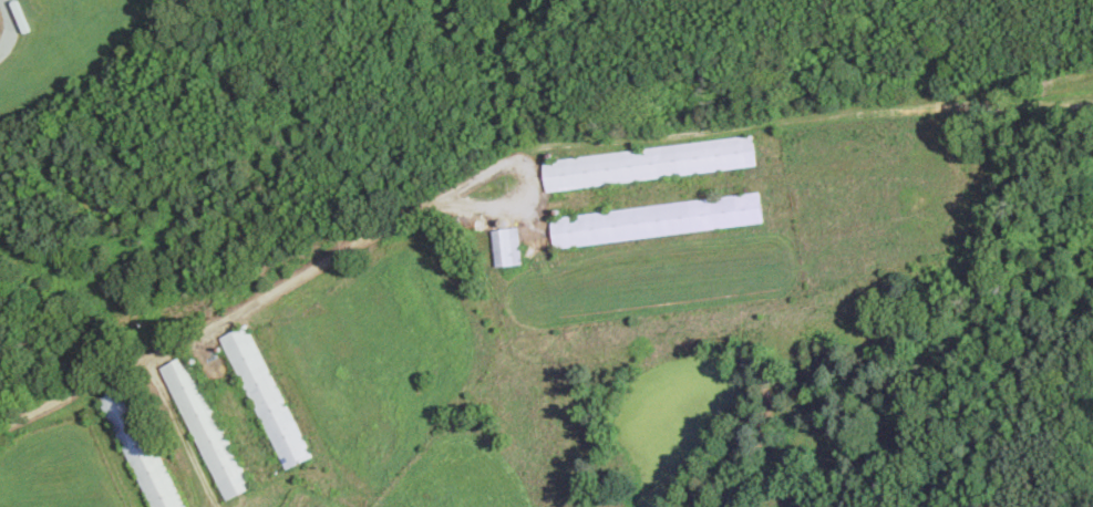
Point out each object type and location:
road: (11, 24)
building: (650, 162)
building: (660, 218)
building: (509, 245)
building: (268, 395)
road: (62, 396)
building: (208, 426)
building: (144, 455)

